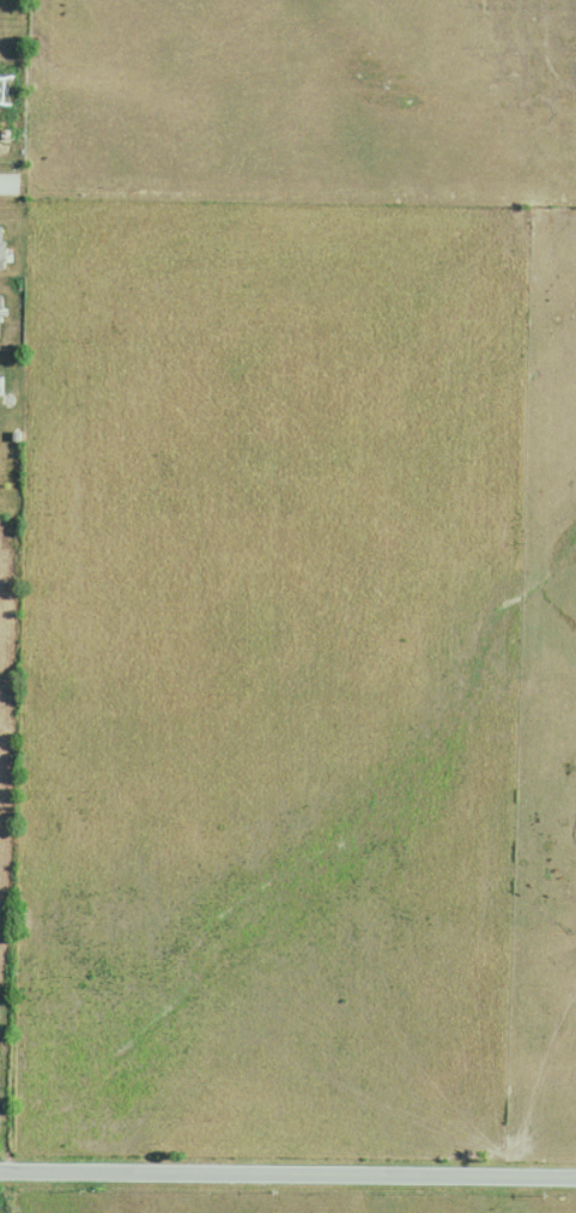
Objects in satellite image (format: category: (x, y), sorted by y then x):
road: (1, 186)
road: (287, 1176)

